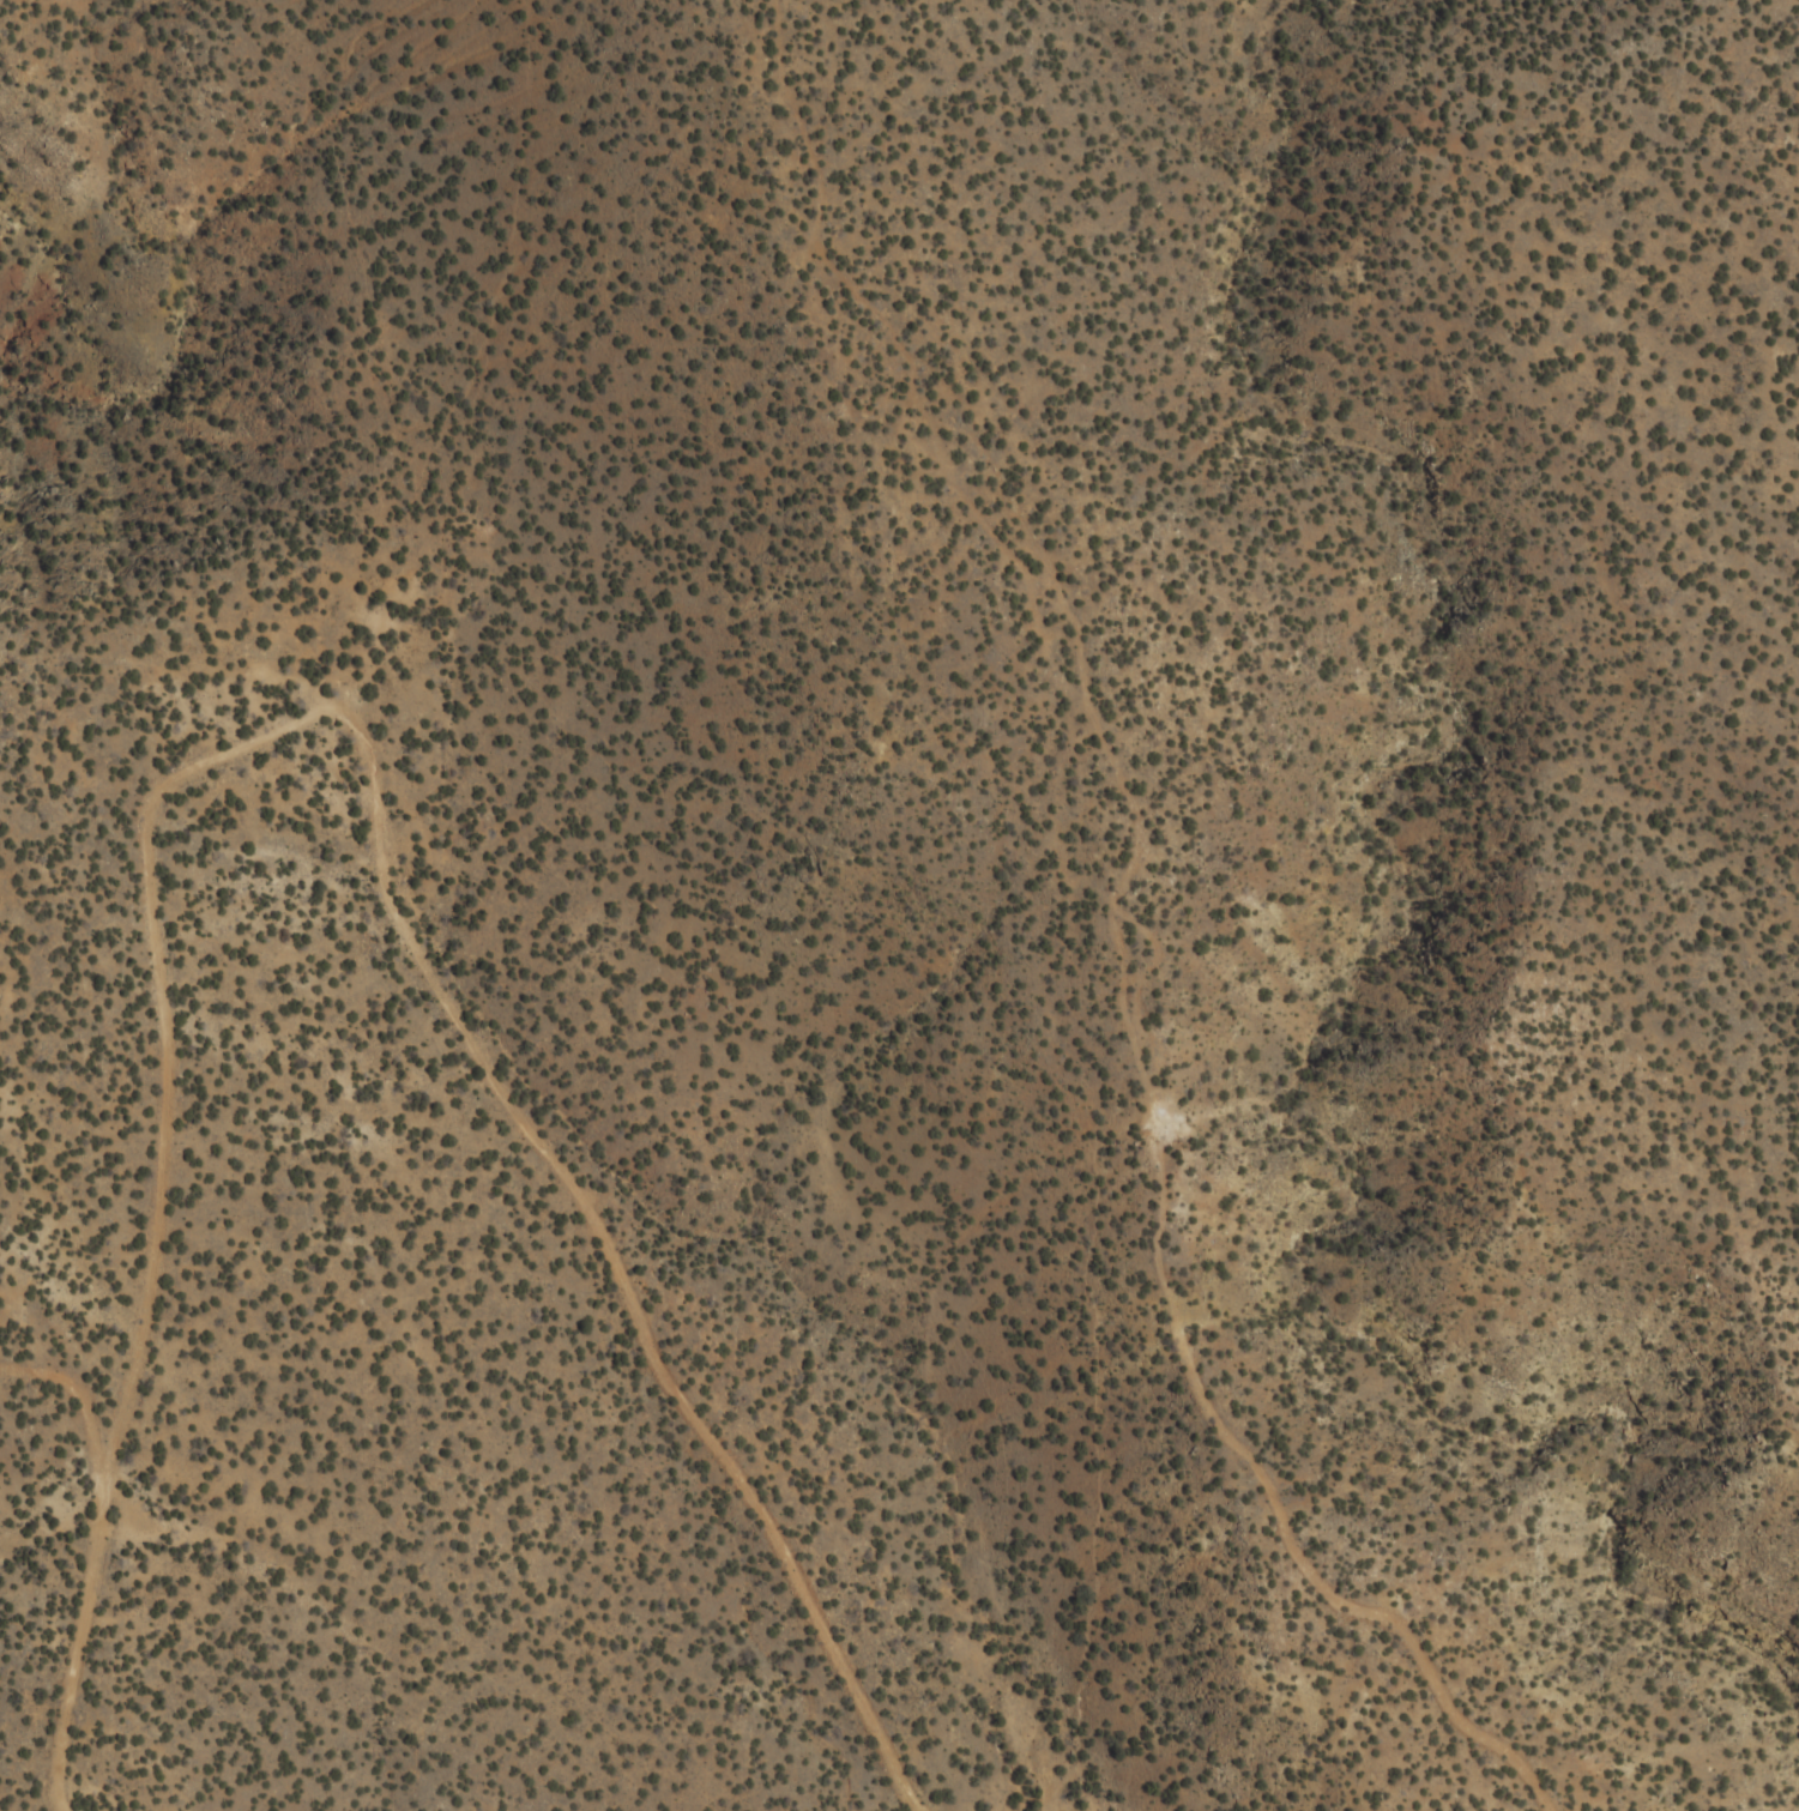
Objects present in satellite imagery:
road: (367, 728)

